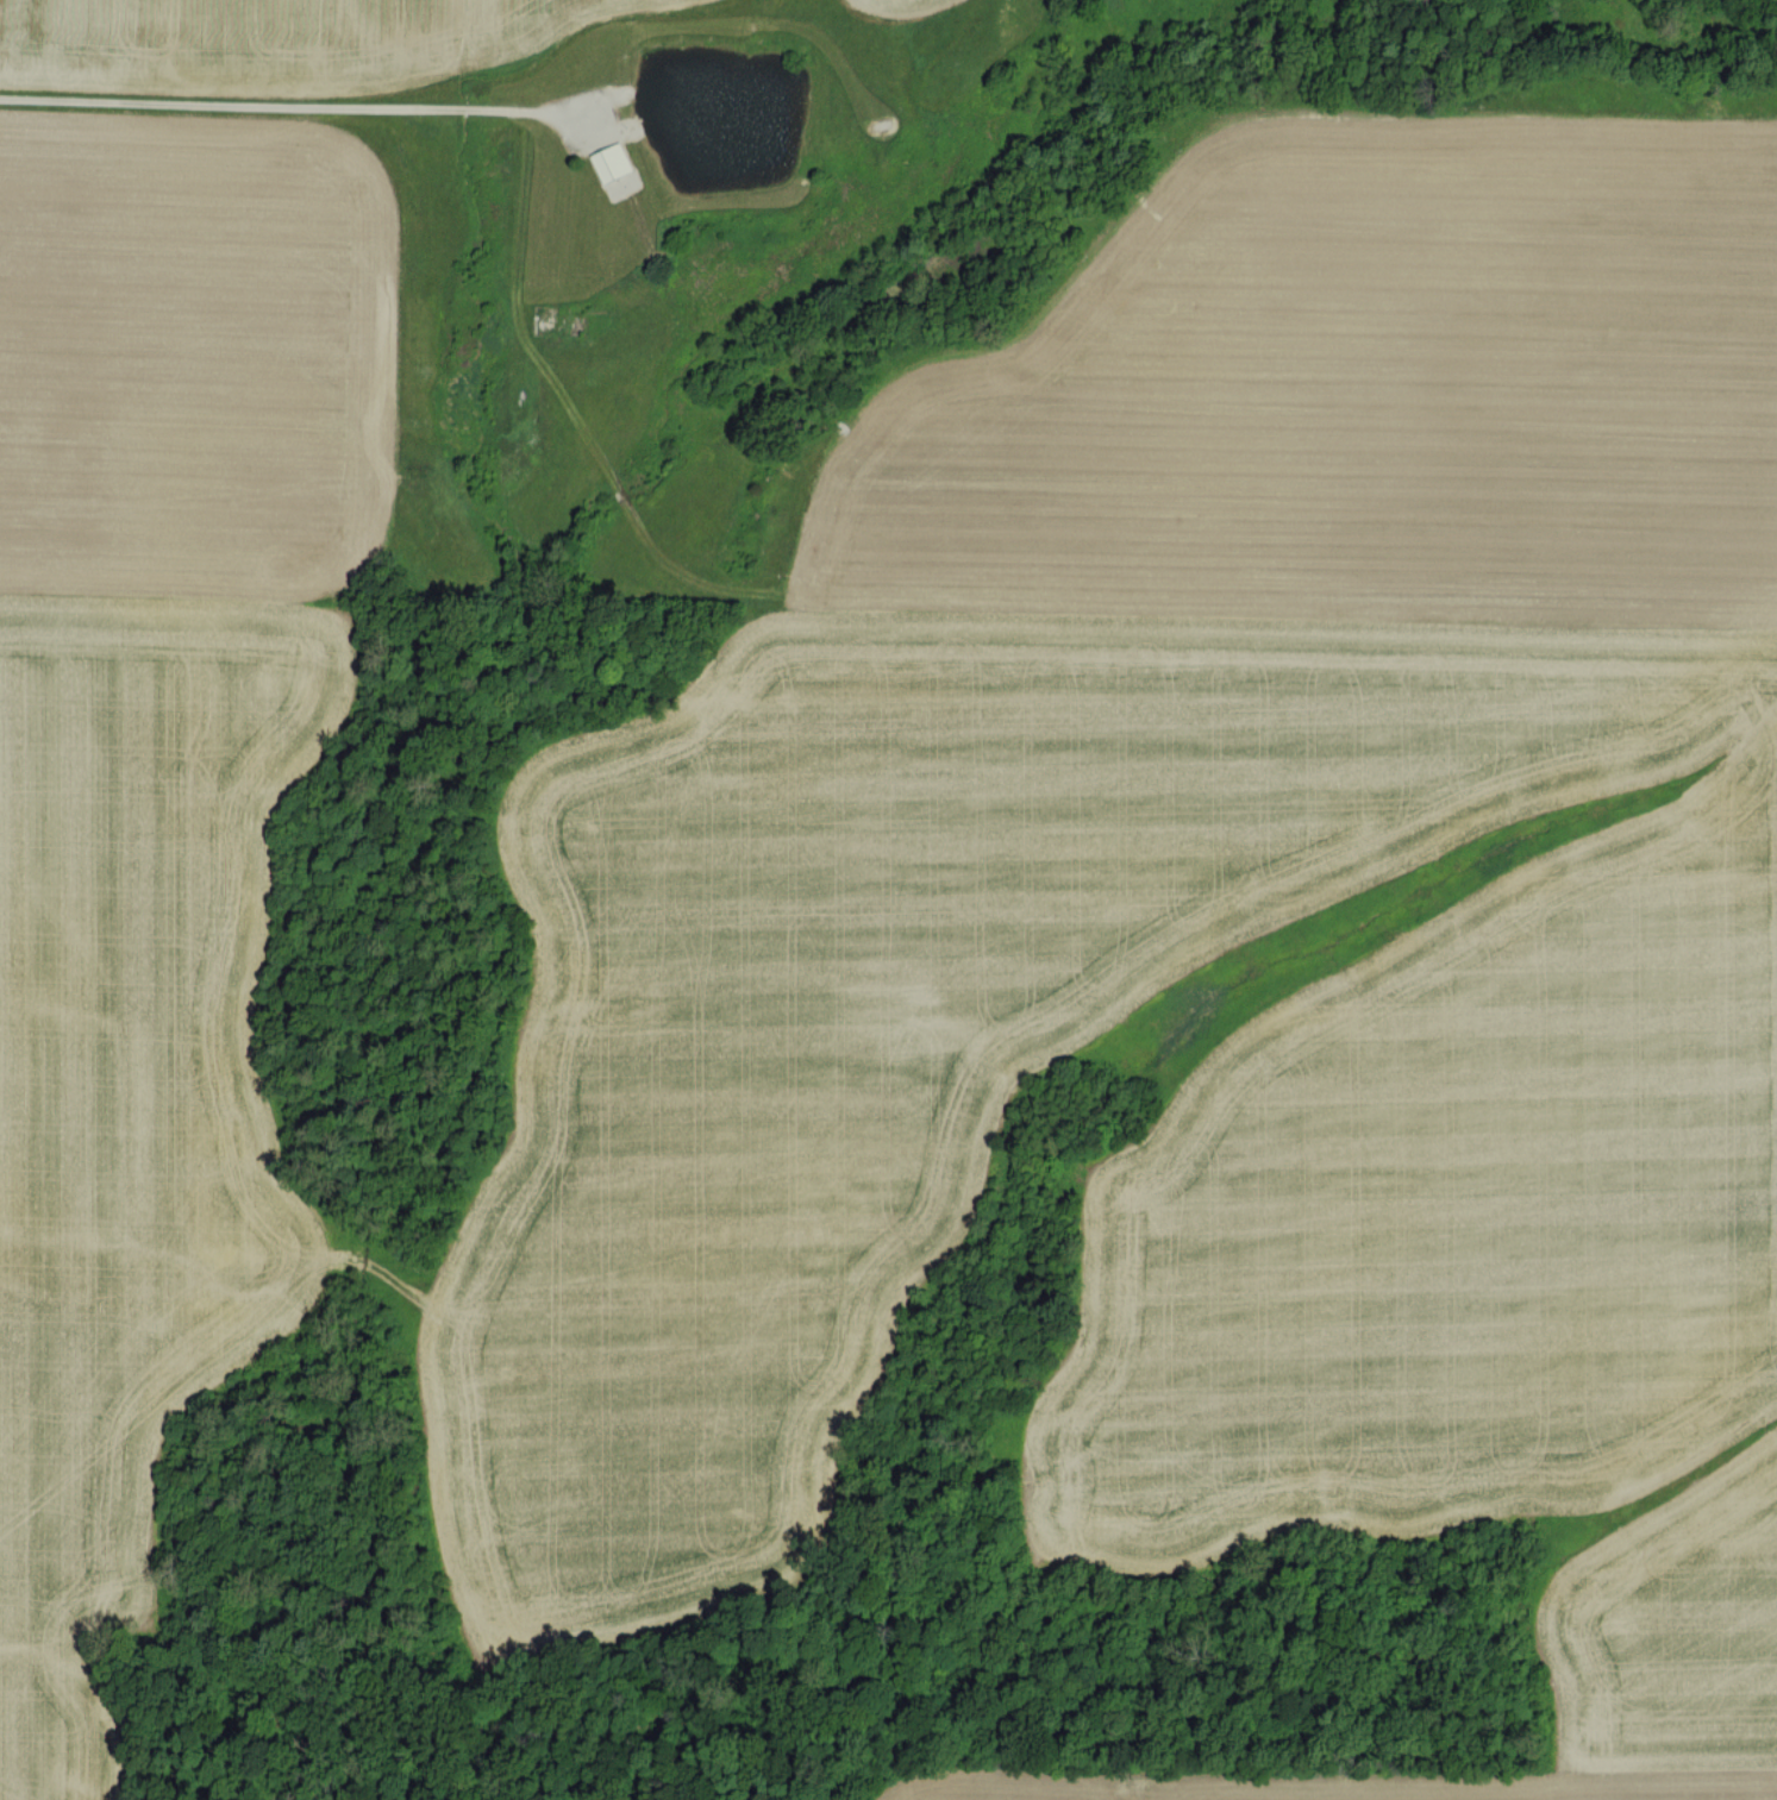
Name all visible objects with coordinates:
road: (304, 108)

